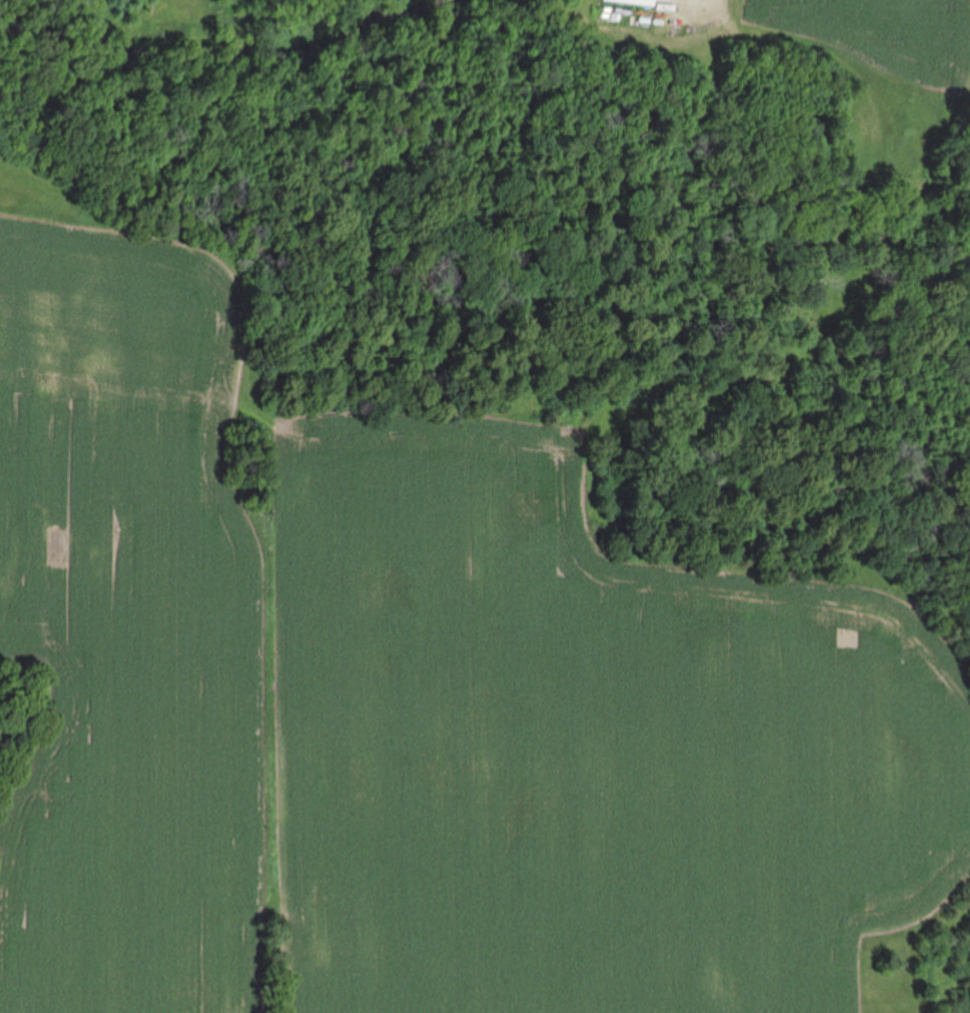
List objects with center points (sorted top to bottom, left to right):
building: (636, 2)

